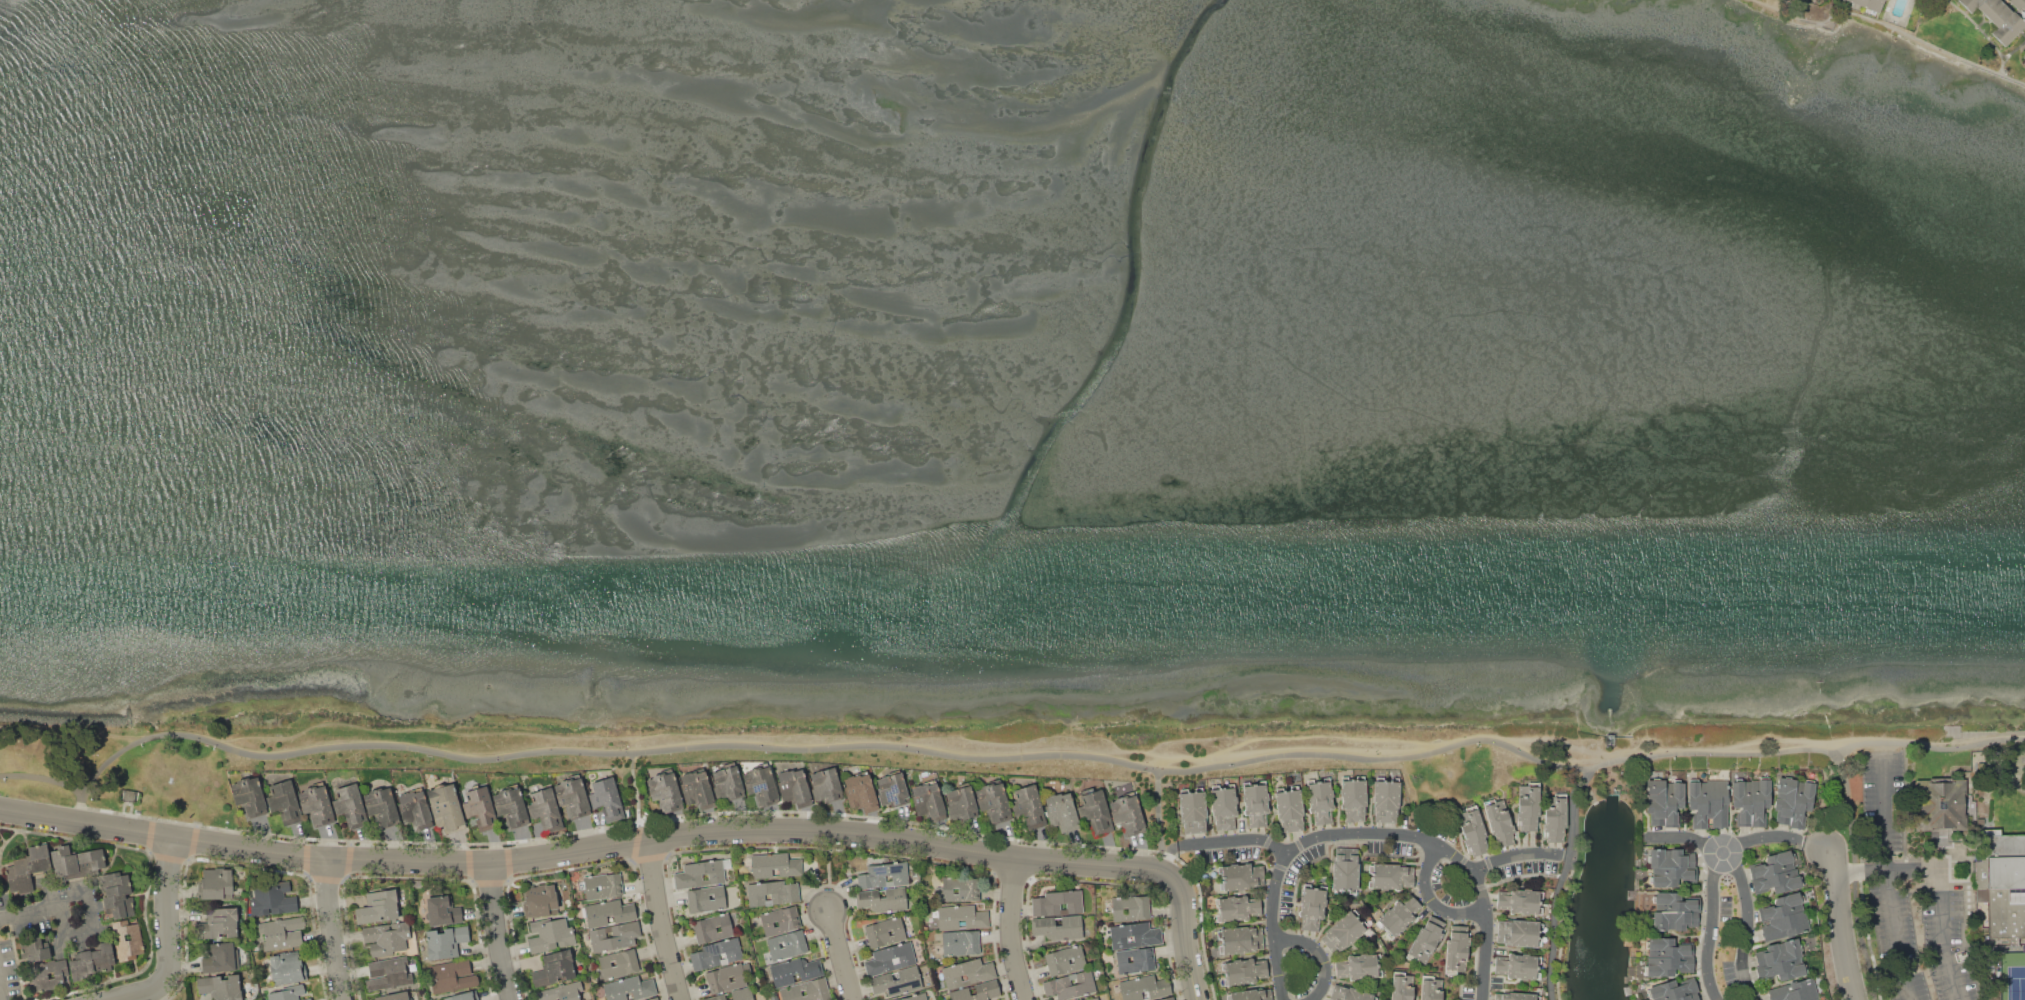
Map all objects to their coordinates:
building: (2018, 3)
building: (1870, 4)
road: (1829, 7)
road: (1792, 12)
building: (1998, 17)
road: (1983, 33)
park: (1854, 37)
road: (1915, 38)
road: (2014, 50)
building: (2024, 55)
road: (2012, 77)
road: (72, 732)
road: (689, 734)
road: (1199, 737)
road: (1352, 740)
road: (1551, 741)
road: (1777, 741)
park: (953, 746)
road: (1204, 756)
road: (1222, 758)
road: (1003, 759)
building: (727, 783)
building: (792, 785)
building: (825, 785)
building: (760, 786)
building: (696, 788)
building: (892, 790)
building: (859, 791)
building: (666, 792)
building: (129, 795)
building: (250, 795)
road: (636, 796)
building: (573, 797)
building: (1353, 797)
building: (607, 799)
building: (1386, 799)
building: (927, 800)
building: (1321, 800)
building: (994, 801)
building: (1751, 801)
building: (1793, 801)
building: (284, 802)
building: (1664, 802)
building: (961, 803)
building: (1255, 803)
building: (1708, 803)
building: (316, 804)
building: (1939, 804)
building: (349, 805)
building: (1529, 805)
building: (382, 806)
building: (511, 806)
building: (1030, 806)
building: (1224, 806)
road: (81, 808)
building: (446, 808)
building: (480, 808)
building: (1289, 808)
building: (415, 809)
building: (545, 810)
building: (1060, 810)
building: (1193, 810)
building: (1095, 812)
road: (1849, 812)
building: (1128, 814)
building: (1555, 818)
road: (1159, 821)
building: (1499, 822)
building: (1472, 829)
road: (1386, 838)
road: (1885, 839)
road: (1818, 846)
road: (583, 850)
road: (1727, 852)
building: (92, 860)
building: (65, 862)
building: (775, 865)
building: (1671, 867)
building: (28, 868)
building: (1346, 869)
road: (1912, 870)
building: (701, 873)
building: (1776, 873)
building: (884, 875)
building: (1240, 876)
building: (1390, 876)
road: (1562, 883)
building: (216, 884)
building: (602, 886)
building: (2000, 888)
building: (961, 889)
building: (772, 893)
building: (117, 896)
building: (272, 899)
building: (706, 899)
building: (882, 899)
building: (543, 900)
parking lot: (1911, 900)
road: (1432, 901)
building: (1520, 901)
building: (1057, 902)
building: (380, 907)
building: (1131, 907)
building: (1313, 907)
building: (1237, 909)
building: (1674, 911)
building: (444, 912)
building: (608, 913)
road: (27, 914)
building: (1399, 915)
building: (962, 917)
building: (1783, 918)
building: (780, 919)
road: (661, 920)
road: (90, 924)
building: (218, 924)
road: (1740, 925)
road: (1847, 925)
road: (1281, 927)
road: (1714, 927)
building: (713, 928)
road: (1008, 928)
building: (1058, 928)
road: (341, 929)
building: (1344, 931)
road: (502, 932)
building: (884, 932)
building: (1519, 932)
building: (283, 933)
road: (1184, 934)
road: (170, 935)
building: (551, 935)
building: (614, 936)
building: (1134, 936)
road: (1486, 936)
building: (386, 938)
building: (1240, 939)
building: (135, 940)
building: (1426, 941)
building: (446, 942)
building: (961, 943)
building: (787, 945)
building: (35, 948)
building: (1457, 949)
building: (716, 954)
road: (840, 956)
road: (1323, 957)
building: (1668, 957)
building: (220, 958)
building: (890, 959)
building: (1135, 959)
building: (94, 960)
building: (1065, 960)
building: (1780, 962)
building: (619, 964)
building: (1518, 966)
building: (287, 967)
building: (1359, 967)
building: (554, 969)
building: (794, 971)
building: (1244, 971)
building: (968, 972)
building: (39, 974)
building: (388, 974)
building: (454, 976)
building: (728, 977)
building: (897, 982)
park: (2016, 984)
building: (1070, 986)
building: (1401, 986)
building: (221, 987)
building: (1144, 988)
building: (1430, 988)
building: (630, 989)
road: (1, 990)
building: (1675, 990)
building: (807, 991)
building: (977, 991)
building: (1795, 991)
road: (162, 992)
building: (562, 992)
building: (288, 993)
building: (1349, 994)
building: (734, 995)
building: (1251, 995)
building: (394, 996)
building: (463, 996)
building: (1515, 996)
building: (915, 997)
building: (653, 998)
building: (307, 999)
building: (582, 999)
building: (1092, 999)
building: (1168, 999)

